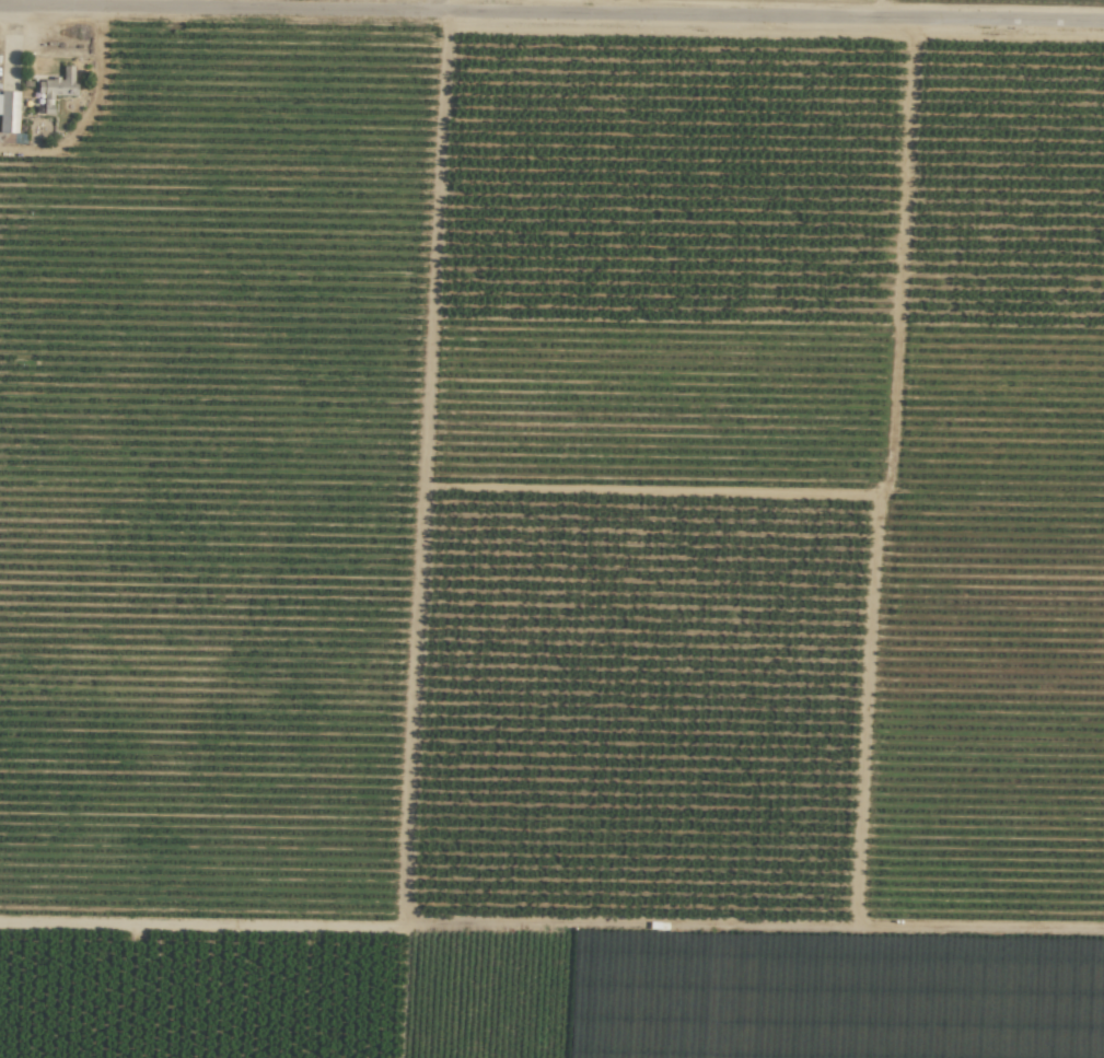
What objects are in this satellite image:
road: (551, 20)
building: (55, 88)
building: (7, 123)

